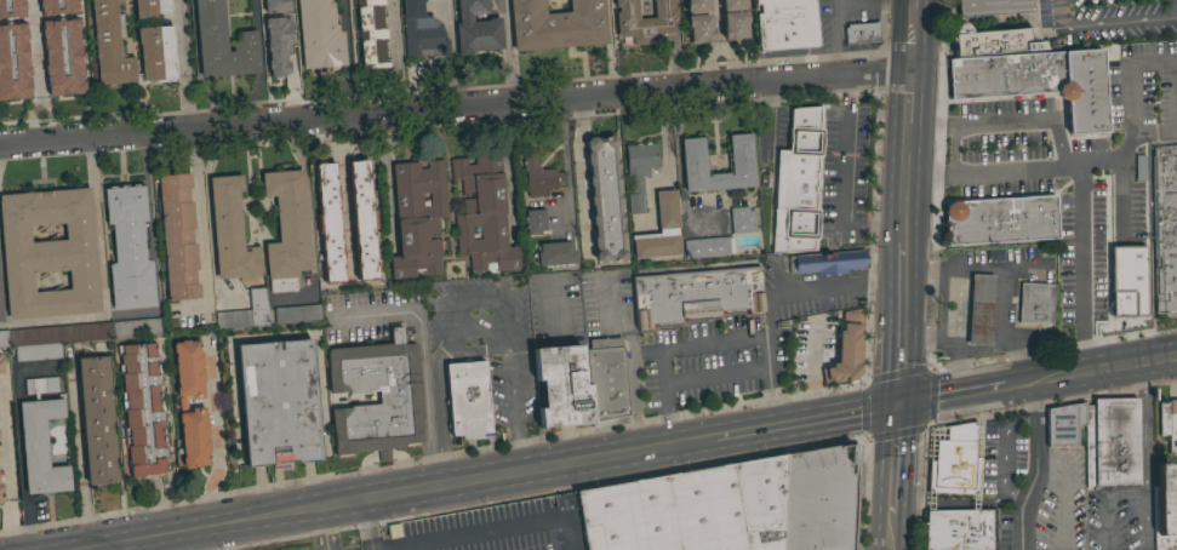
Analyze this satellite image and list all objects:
building: (732, 5)
road: (914, 5)
building: (273, 6)
building: (697, 6)
building: (152, 7)
building: (992, 7)
building: (644, 22)
building: (556, 24)
building: (785, 24)
road: (1103, 24)
building: (735, 25)
building: (476, 28)
building: (699, 28)
building: (422, 31)
building: (861, 33)
building: (371, 34)
building: (319, 35)
road: (834, 40)
building: (155, 41)
road: (913, 41)
building: (993, 42)
building: (222, 44)
building: (61, 46)
road: (610, 48)
building: (15, 50)
road: (33, 52)
road: (510, 53)
road: (452, 55)
building: (281, 57)
road: (394, 57)
road: (1132, 62)
road: (259, 64)
road: (183, 65)
road: (196, 67)
building: (1038, 82)
road: (830, 92)
road: (910, 102)
road: (38, 105)
road: (455, 110)
road: (1056, 128)
road: (1154, 133)
road: (661, 136)
road: (1096, 139)
road: (909, 145)
road: (950, 149)
building: (739, 161)
building: (639, 172)
building: (538, 177)
road: (908, 177)
road: (1067, 178)
road: (842, 179)
building: (798, 184)
road: (147, 188)
building: (605, 199)
road: (207, 210)
building: (482, 214)
road: (908, 217)
building: (417, 218)
building: (361, 219)
building: (741, 219)
building: (1000, 219)
building: (535, 220)
building: (328, 223)
road: (97, 228)
building: (1165, 229)
building: (286, 230)
building: (659, 230)
building: (230, 231)
building: (177, 237)
building: (708, 246)
building: (128, 248)
building: (48, 253)
building: (555, 254)
road: (1070, 258)
building: (825, 262)
road: (960, 269)
road: (1139, 269)
building: (1113, 280)
road: (904, 285)
road: (817, 287)
road: (2, 293)
building: (695, 294)
gas station: (992, 298)
building: (1032, 304)
road: (1001, 306)
building: (1, 308)
building: (979, 309)
building: (245, 311)
road: (502, 313)
building: (296, 314)
road: (377, 314)
road: (55, 320)
road: (2, 325)
building: (72, 336)
road: (710, 344)
building: (846, 349)
road: (958, 354)
road: (1015, 359)
road: (1159, 360)
building: (1, 366)
road: (903, 368)
building: (189, 369)
road: (1080, 373)
road: (715, 377)
building: (606, 382)
building: (40, 385)
road: (1012, 385)
building: (561, 386)
road: (633, 388)
building: (398, 395)
road: (949, 396)
building: (468, 400)
building: (278, 402)
road: (425, 403)
traffic signals: (895, 406)
building: (142, 411)
road: (830, 417)
road: (440, 418)
building: (96, 419)
building: (1063, 423)
building: (1169, 424)
building: (194, 437)
road: (215, 437)
road: (17, 439)
building: (1110, 442)
road: (903, 445)
building: (40, 447)
road: (1006, 453)
road: (516, 454)
road: (1144, 456)
road: (76, 457)
building: (954, 460)
road: (1034, 466)
road: (879, 476)
road: (562, 481)
road: (285, 483)
road: (422, 488)
building: (0, 493)
road: (901, 500)
building: (769, 502)
road: (1064, 503)
road: (1103, 503)
building: (1165, 508)
building: (627, 516)
road: (365, 525)
road: (325, 528)
building: (956, 529)
road: (899, 533)
road: (479, 534)
road: (570, 534)
road: (118, 546)

